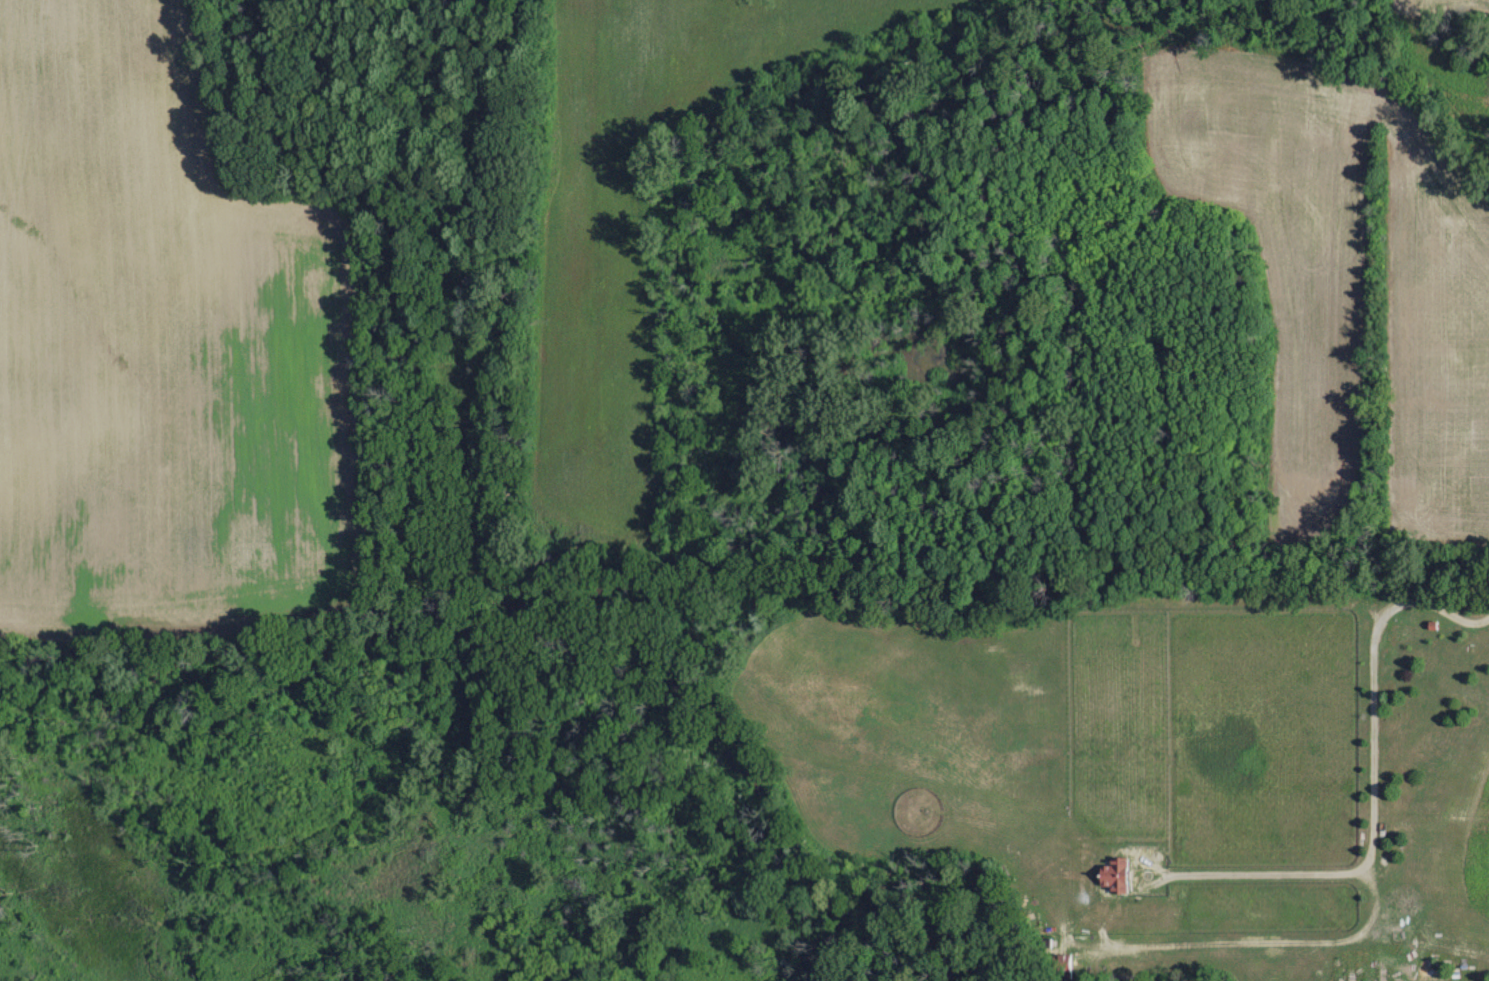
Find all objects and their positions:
road: (584, 13)
road: (1367, 283)
road: (1427, 564)
river: (563, 596)
road: (1373, 785)
building: (1115, 874)
building: (1059, 962)

